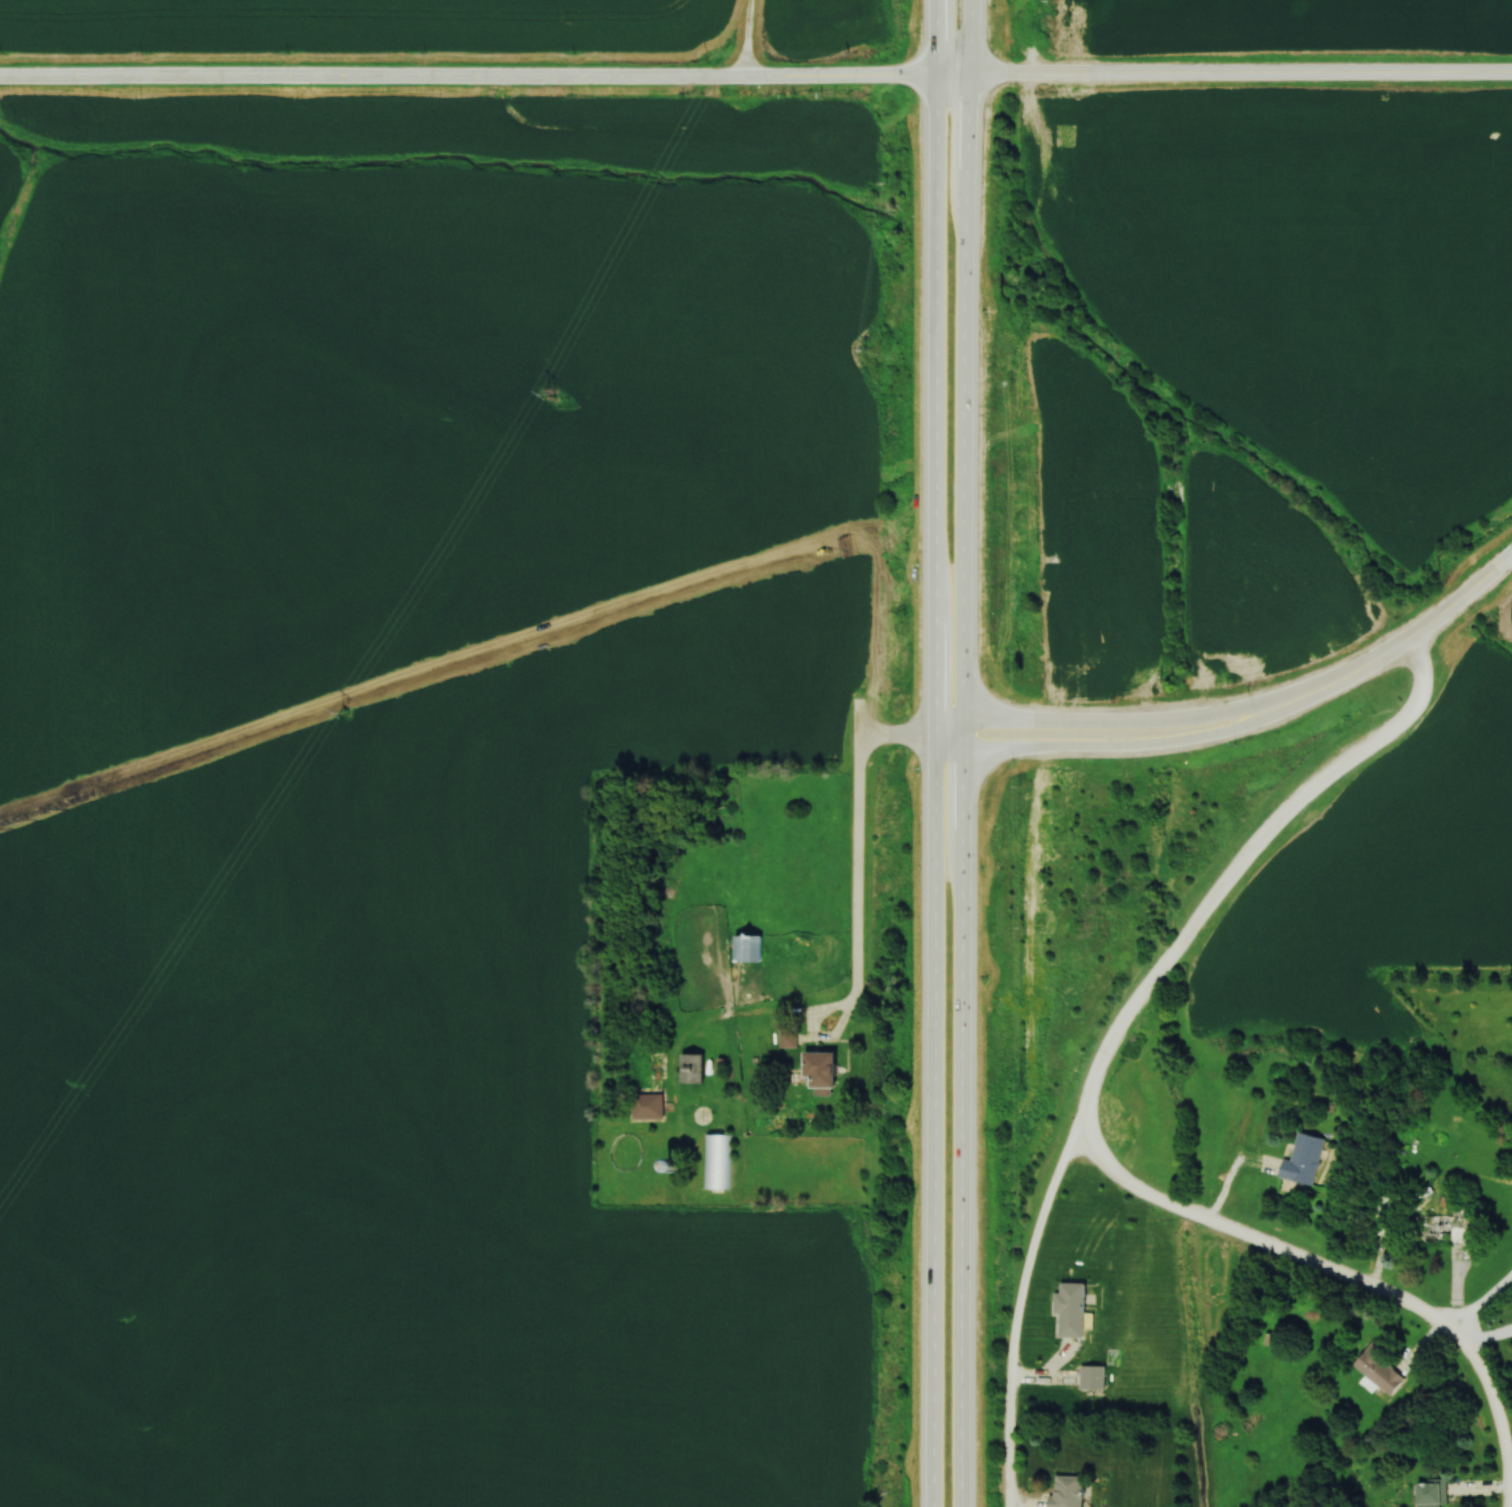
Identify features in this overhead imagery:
road: (744, 38)
road: (1241, 74)
road: (485, 77)
power tower: (551, 397)
road: (1401, 646)
power tower: (345, 709)
road: (1043, 722)
road: (1163, 741)
road: (934, 753)
road: (964, 753)
road: (857, 836)
building: (751, 950)
road: (810, 1024)
road: (1125, 1025)
building: (694, 1070)
building: (654, 1109)
building: (1306, 1159)
building: (717, 1162)
building: (1387, 1215)
building: (1448, 1229)
road: (1341, 1278)
road: (1482, 1304)
building: (1074, 1310)
building: (1382, 1369)
building: (1094, 1378)
building: (1070, 1491)
building: (1433, 1494)

